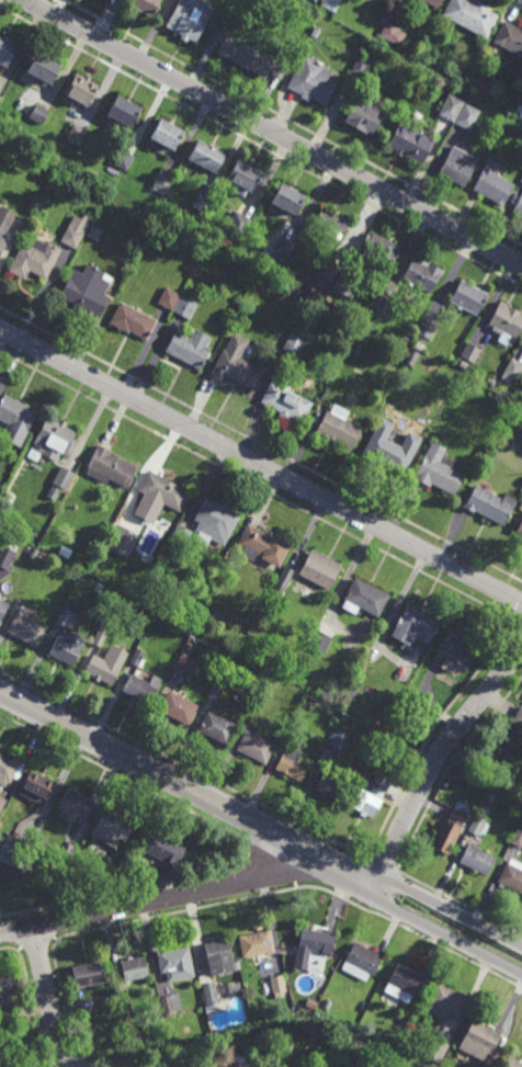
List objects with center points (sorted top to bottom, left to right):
building: (435, 2)
building: (146, 4)
building: (331, 4)
building: (472, 15)
building: (189, 19)
building: (376, 30)
building: (393, 33)
building: (510, 37)
building: (7, 48)
building: (247, 55)
building: (45, 66)
building: (360, 67)
building: (311, 80)
building: (81, 90)
building: (519, 95)
building: (0, 99)
building: (451, 107)
building: (124, 110)
building: (39, 114)
building: (365, 114)
building: (467, 116)
road: (274, 132)
building: (167, 133)
building: (76, 136)
building: (412, 141)
building: (207, 157)
building: (123, 160)
building: (457, 166)
building: (243, 178)
building: (521, 180)
building: (161, 183)
building: (492, 184)
building: (288, 198)
building: (201, 202)
building: (519, 207)
building: (5, 218)
building: (331, 224)
building: (238, 225)
building: (76, 230)
building: (94, 232)
building: (2, 242)
building: (286, 247)
building: (381, 251)
building: (35, 259)
building: (330, 271)
building: (423, 274)
building: (344, 280)
building: (88, 290)
building: (467, 297)
building: (168, 298)
building: (383, 305)
building: (184, 307)
building: (133, 321)
building: (506, 323)
building: (427, 329)
building: (407, 339)
building: (294, 345)
building: (418, 345)
building: (189, 348)
building: (469, 352)
building: (401, 353)
building: (412, 357)
building: (237, 365)
building: (511, 372)
building: (500, 389)
building: (286, 401)
building: (16, 415)
building: (339, 428)
building: (55, 439)
building: (387, 449)
road: (261, 465)
building: (109, 468)
building: (438, 470)
building: (64, 478)
building: (163, 491)
building: (489, 506)
building: (215, 522)
building: (519, 529)
building: (181, 535)
building: (123, 541)
building: (264, 546)
building: (35, 552)
building: (5, 557)
building: (320, 570)
building: (283, 581)
building: (366, 598)
building: (2, 609)
building: (64, 617)
building: (416, 627)
building: (25, 631)
building: (99, 638)
building: (319, 643)
building: (68, 648)
building: (457, 649)
building: (137, 659)
building: (185, 665)
building: (101, 670)
building: (141, 689)
building: (216, 691)
building: (353, 692)
building: (178, 708)
building: (518, 716)
building: (217, 728)
building: (339, 739)
building: (256, 747)
road: (438, 760)
building: (355, 762)
building: (292, 763)
building: (7, 770)
building: (379, 783)
building: (329, 784)
building: (37, 788)
road: (188, 790)
building: (490, 795)
building: (365, 802)
building: (2, 803)
building: (76, 805)
building: (485, 809)
building: (477, 825)
building: (112, 828)
building: (447, 831)
building: (518, 836)
building: (12, 847)
building: (166, 850)
building: (476, 859)
building: (66, 860)
building: (511, 875)
road: (166, 898)
road: (451, 911)
road: (444, 937)
building: (256, 943)
building: (313, 944)
building: (219, 956)
building: (362, 962)
building: (175, 963)
building: (134, 968)
building: (88, 974)
building: (277, 984)
building: (405, 984)
building: (7, 987)
building: (209, 992)
road: (48, 1001)
building: (444, 1001)
building: (171, 1002)
building: (328, 1003)
building: (125, 1007)
building: (4, 1017)
building: (127, 1022)
building: (477, 1041)
building: (435, 1049)
building: (283, 1057)
building: (266, 1059)
building: (227, 1062)
building: (372, 1062)
building: (511, 1063)
building: (361, 1066)

